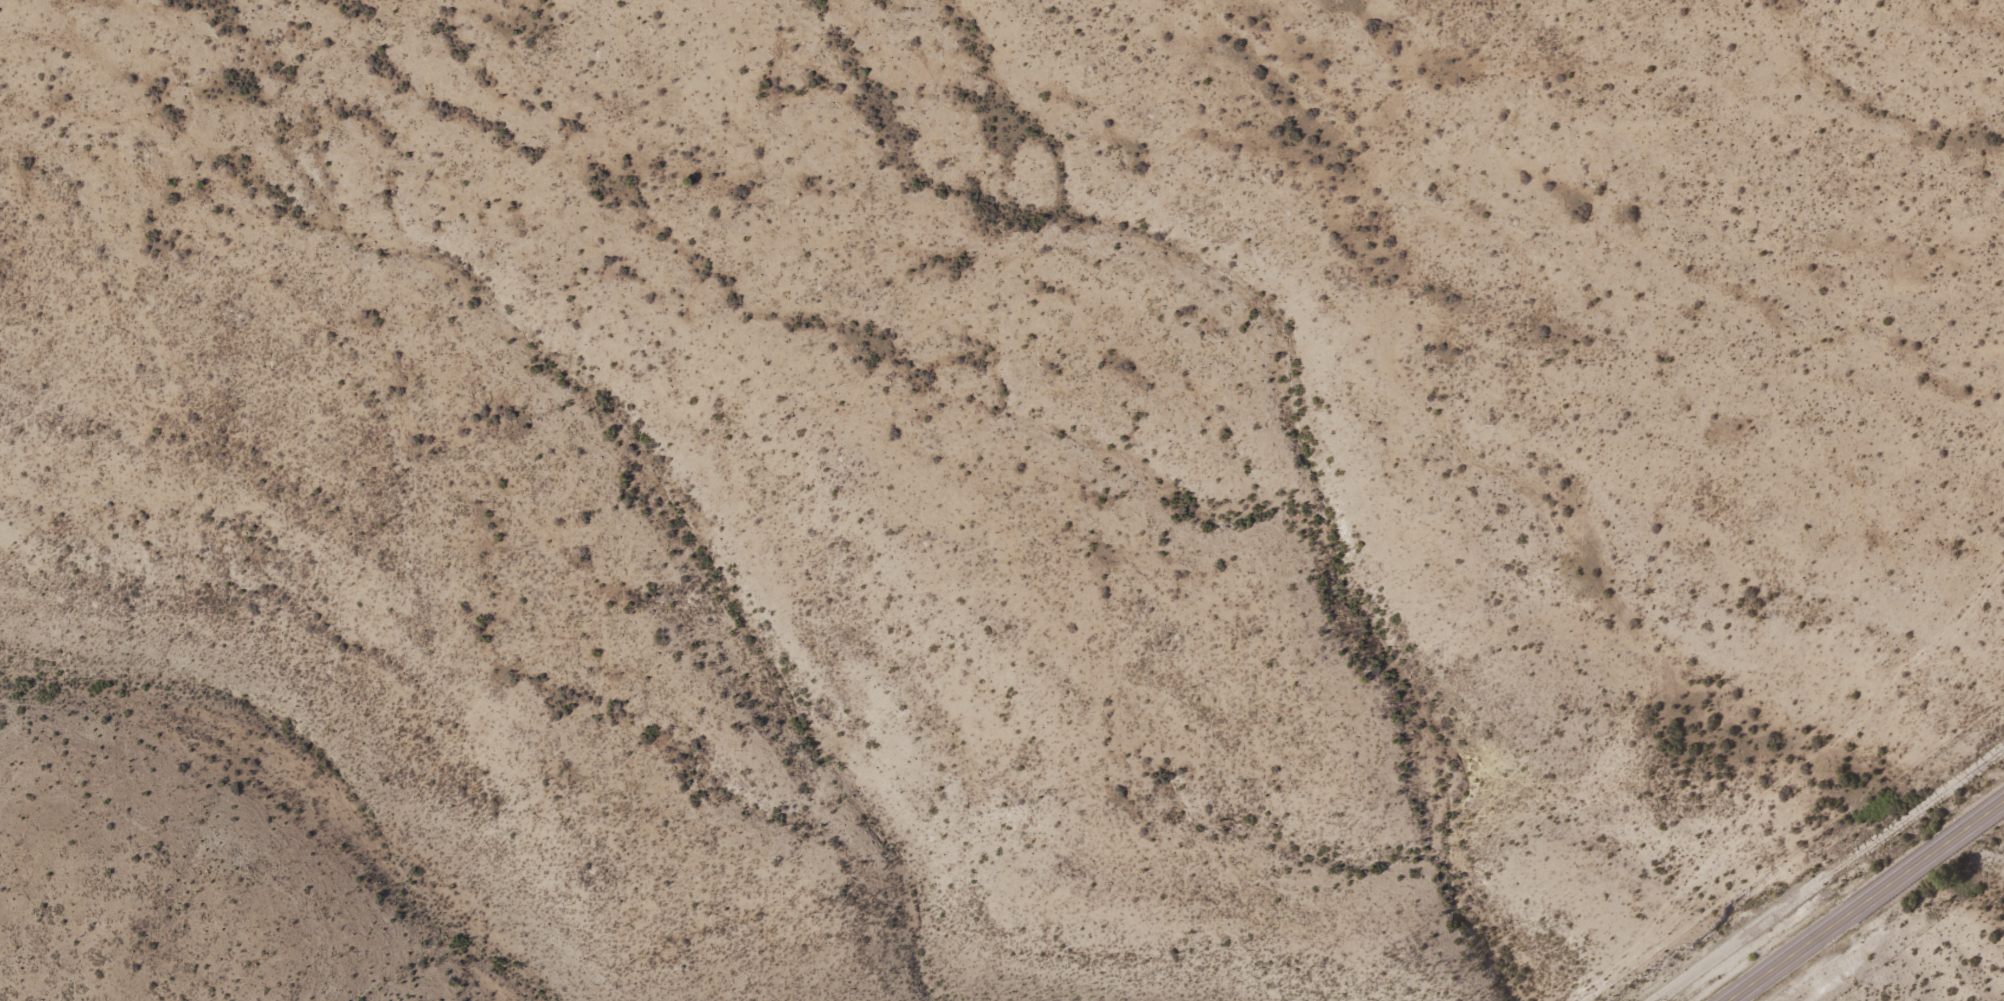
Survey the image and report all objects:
road: (1864, 899)

